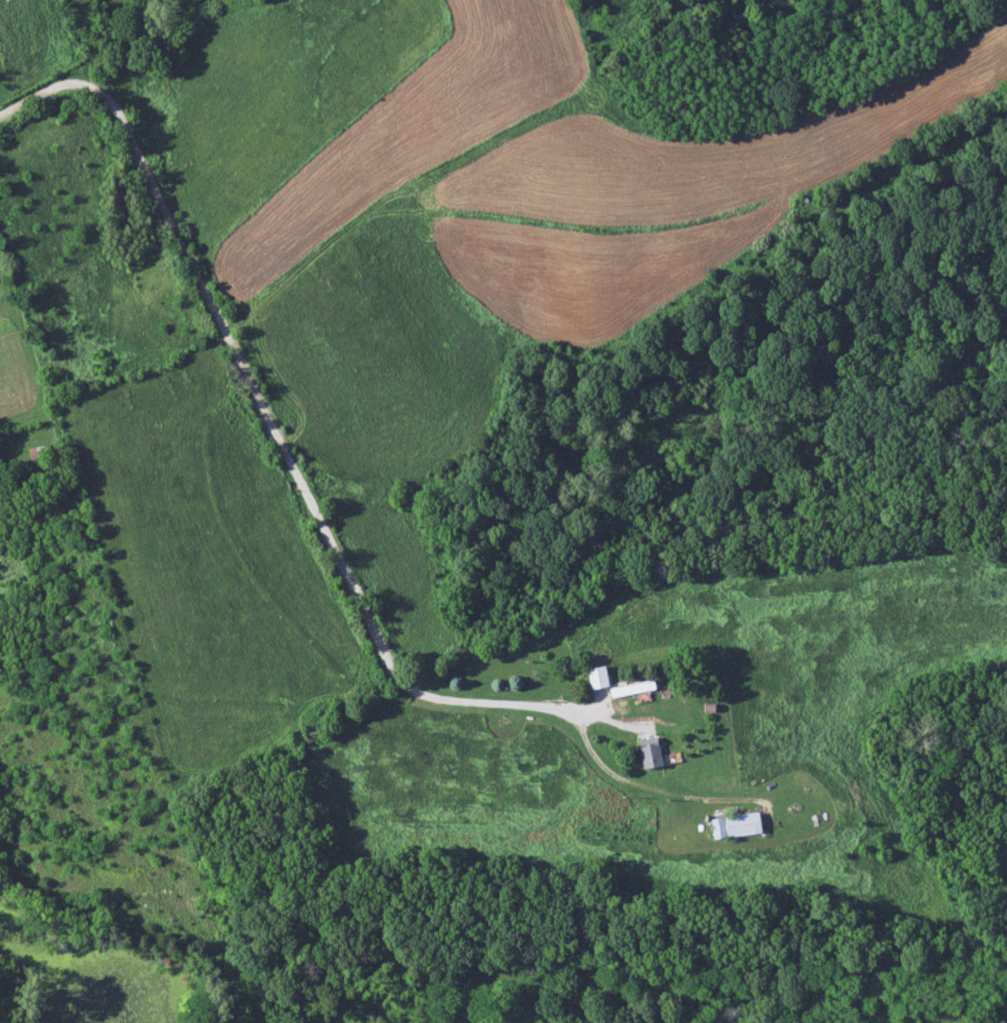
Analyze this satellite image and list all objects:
road: (39, 93)
road: (288, 452)
road: (651, 779)

